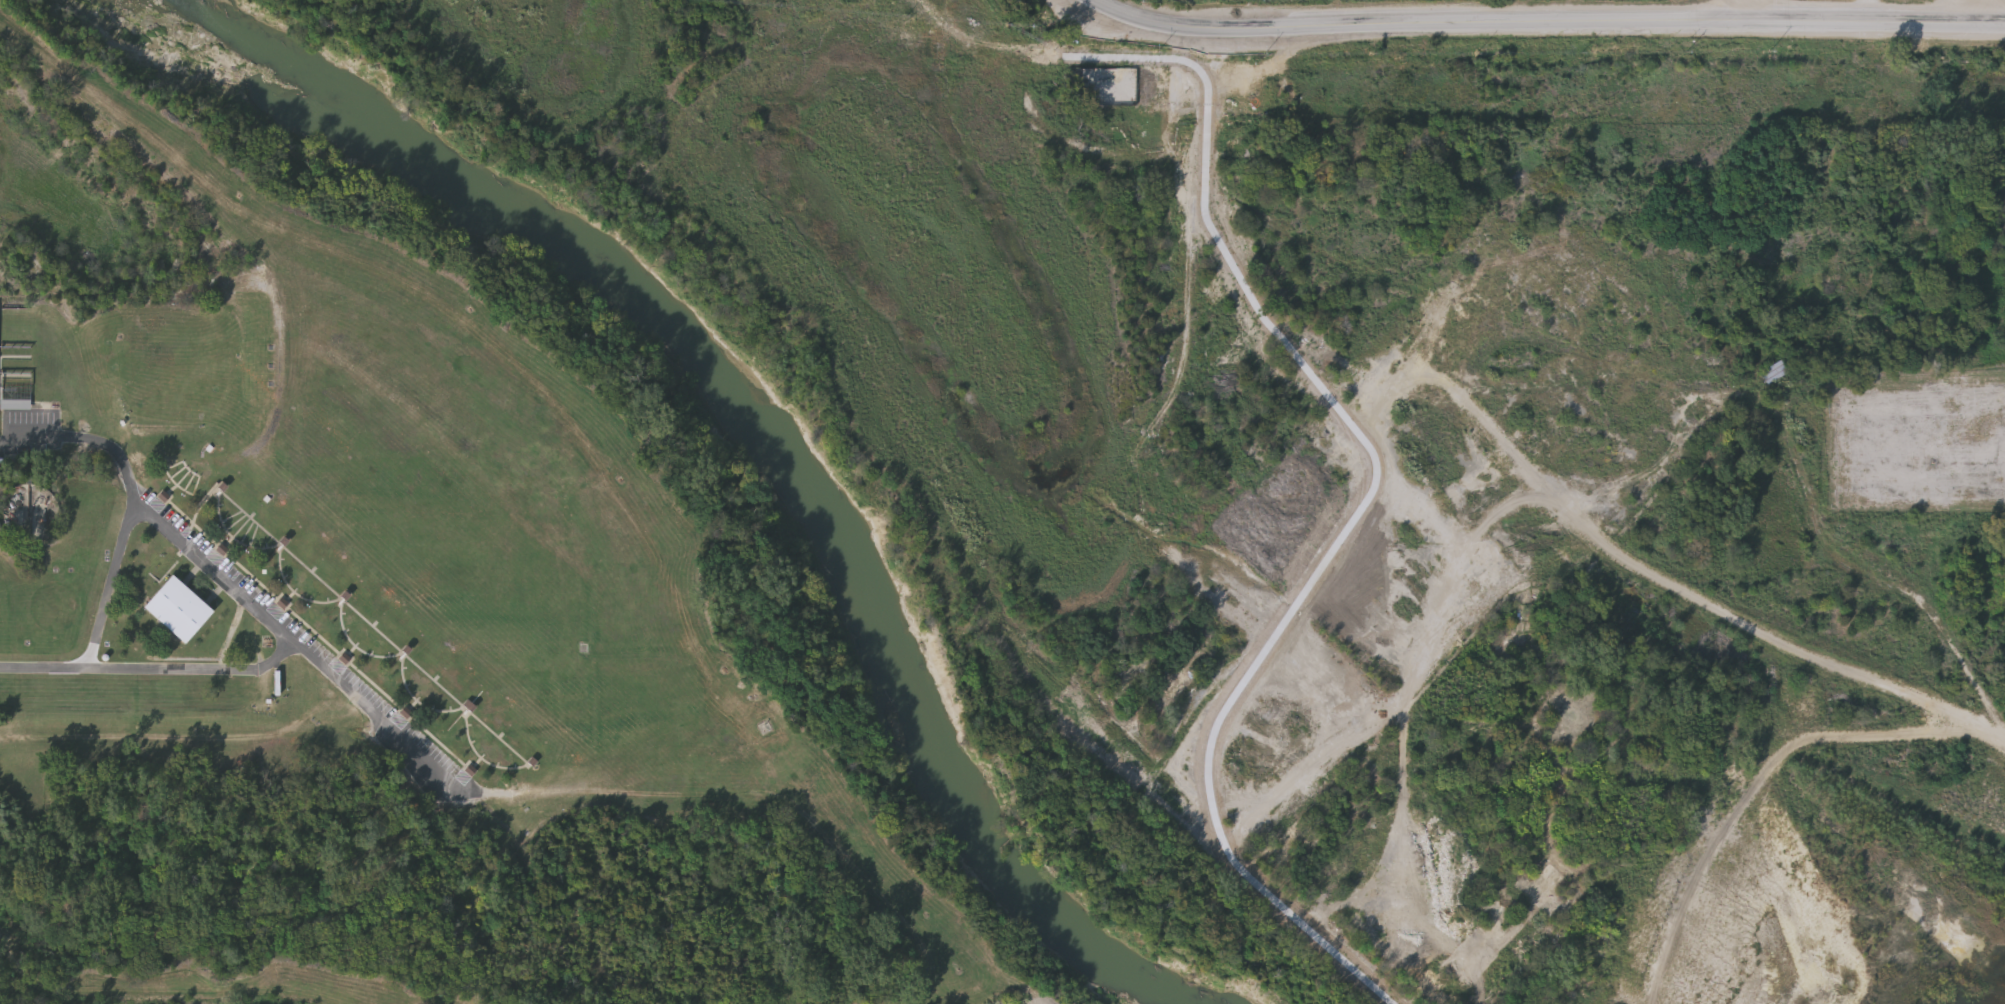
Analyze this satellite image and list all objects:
road: (1100, 4)
road: (1734, 13)
road: (1868, 13)
road: (1949, 13)
road: (1985, 13)
road: (1554, 24)
building: (17, 400)
river: (748, 414)
road: (87, 438)
road: (153, 514)
road: (1236, 541)
building: (177, 610)
road: (252, 669)

